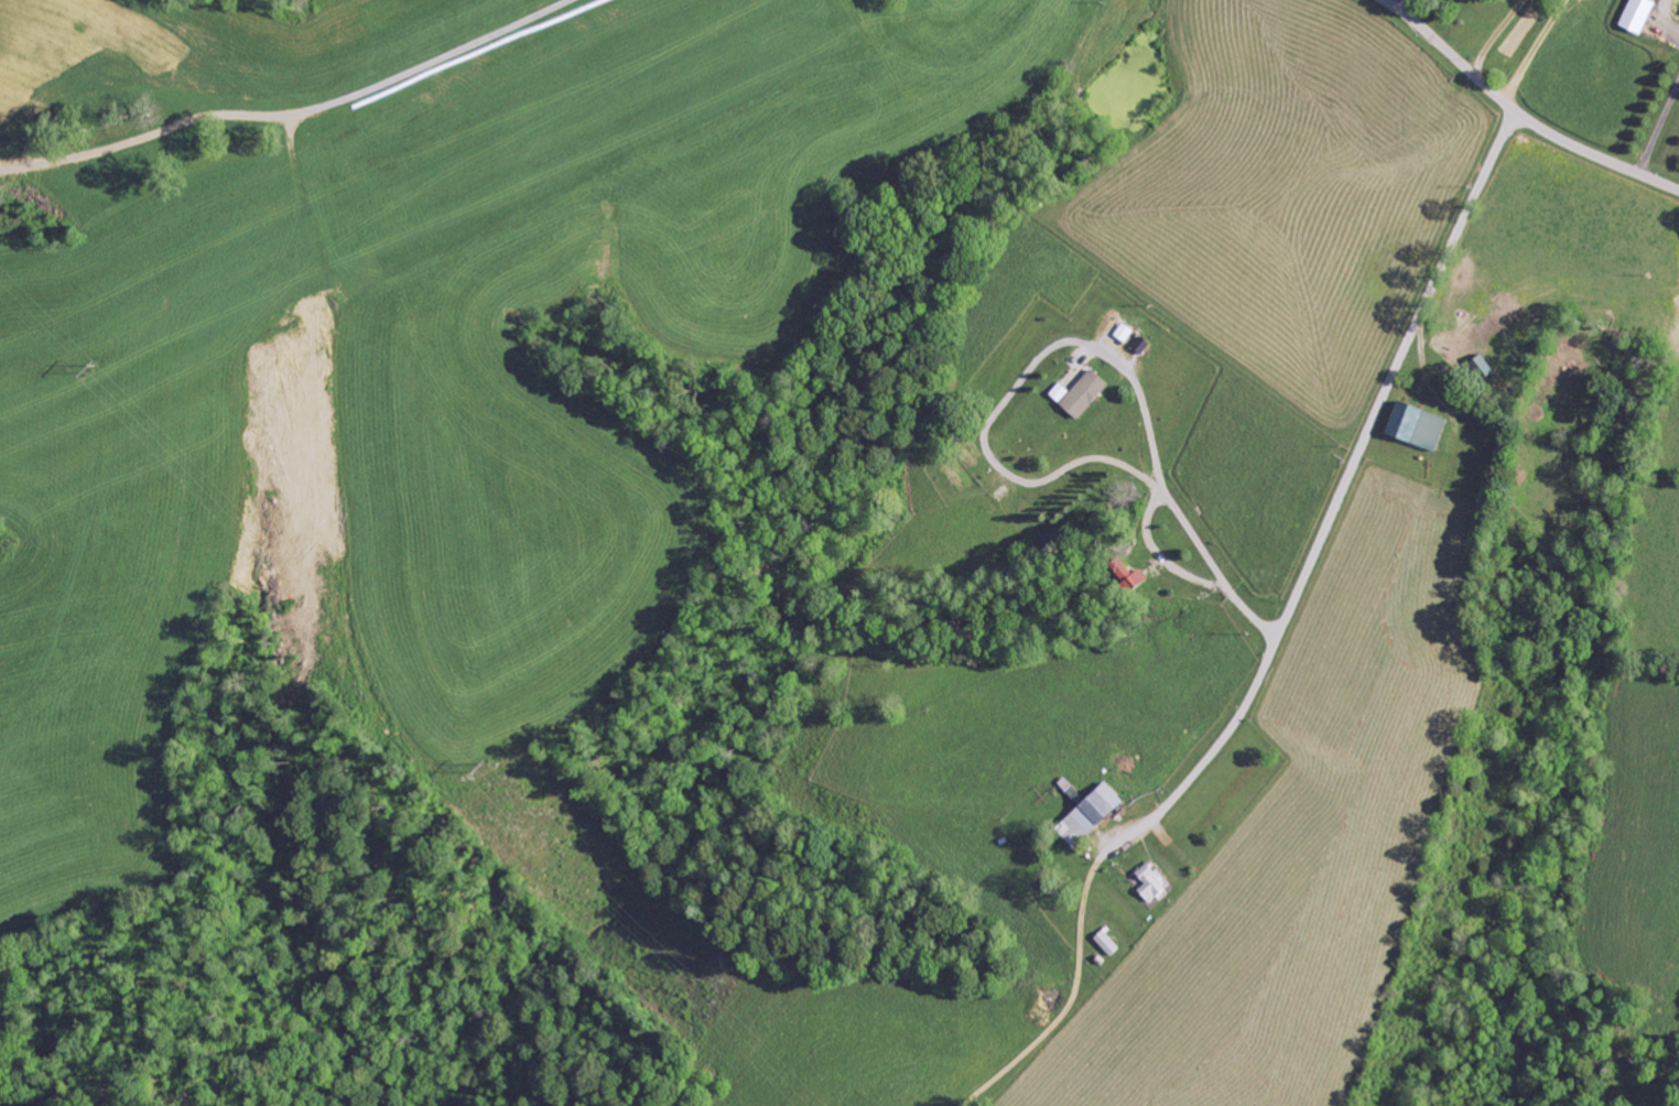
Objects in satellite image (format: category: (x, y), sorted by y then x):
building: (1640, 15)
road: (1518, 112)
power tower: (87, 367)
building: (1087, 393)
building: (1420, 425)
road: (1345, 480)
road: (1104, 529)
power tower: (480, 766)
building: (1094, 815)
building: (1155, 882)
building: (1108, 944)

